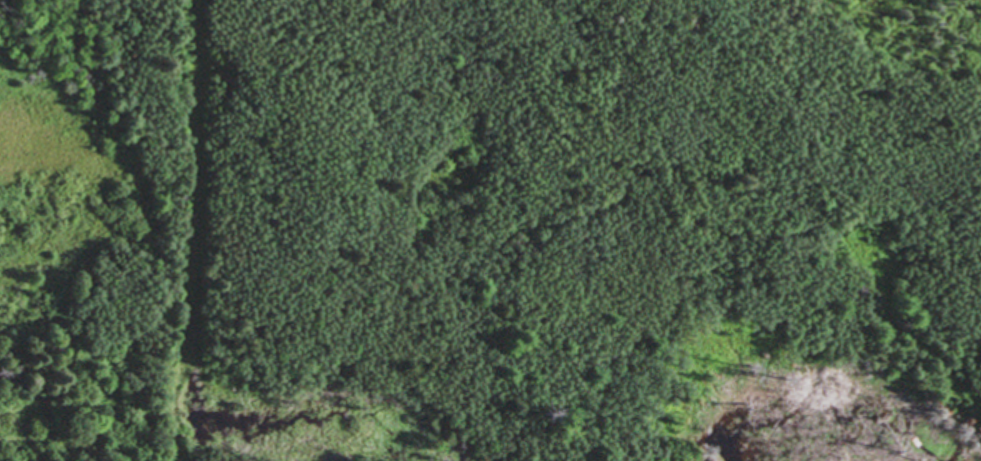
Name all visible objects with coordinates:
road: (192, 230)

